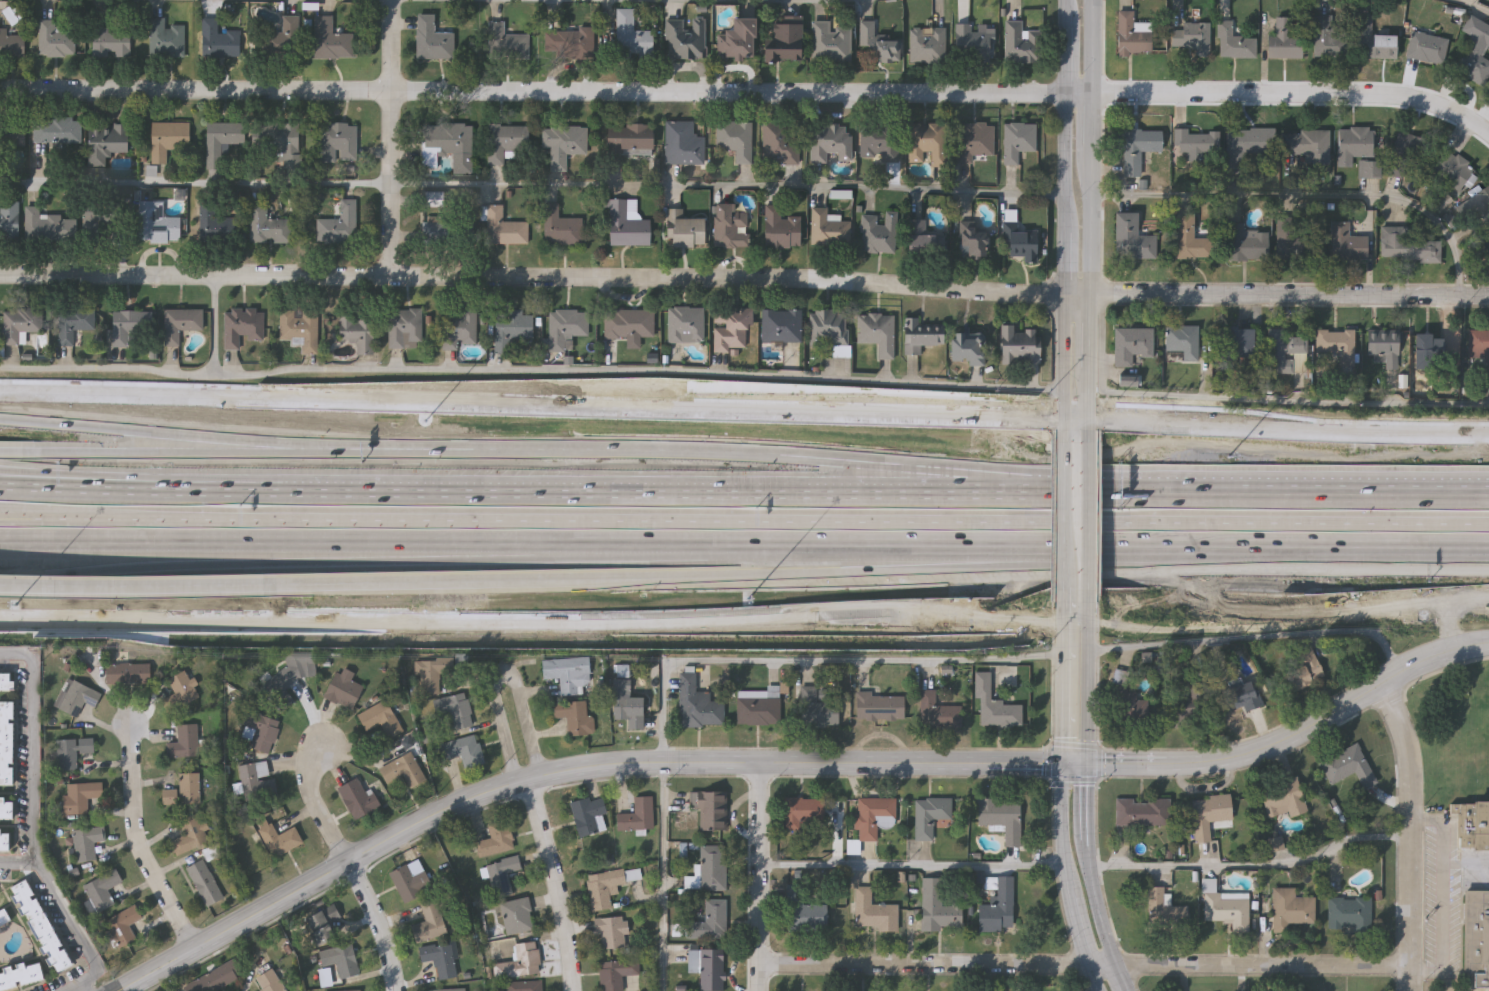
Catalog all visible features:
road: (459, 2)
road: (1467, 6)
building: (1131, 36)
building: (1328, 36)
building: (632, 37)
building: (165, 38)
building: (277, 38)
building: (432, 38)
building: (686, 38)
building: (1191, 38)
building: (54, 40)
building: (218, 40)
building: (332, 40)
building: (738, 40)
building: (783, 40)
building: (575, 41)
building: (1371, 41)
building: (110, 42)
building: (831, 42)
building: (1283, 42)
building: (1022, 43)
building: (1234, 43)
building: (11, 44)
building: (509, 44)
building: (928, 44)
building: (972, 44)
building: (877, 45)
building: (1427, 48)
building: (1474, 52)
road: (748, 93)
building: (57, 131)
building: (12, 136)
road: (388, 139)
building: (448, 139)
building: (629, 139)
building: (735, 139)
building: (167, 140)
building: (1019, 140)
building: (221, 141)
building: (283, 141)
building: (506, 141)
building: (973, 141)
building: (337, 142)
building: (831, 142)
building: (927, 142)
building: (104, 143)
building: (563, 143)
building: (780, 143)
building: (879, 143)
building: (1195, 143)
building: (683, 144)
building: (1354, 145)
building: (1308, 146)
building: (1136, 147)
building: (1247, 147)
building: (1408, 154)
building: (1369, 170)
building: (1453, 171)
road: (534, 186)
road: (1069, 194)
building: (434, 199)
road: (1307, 199)
building: (1480, 207)
building: (97, 217)
building: (9, 218)
building: (213, 222)
building: (157, 223)
building: (341, 224)
building: (49, 225)
building: (624, 225)
road: (1091, 225)
building: (267, 226)
building: (560, 226)
building: (729, 226)
building: (504, 227)
building: (780, 228)
building: (684, 229)
building: (829, 229)
building: (878, 232)
building: (450, 233)
building: (1132, 238)
building: (923, 239)
building: (1191, 239)
building: (973, 241)
building: (1020, 241)
building: (1290, 241)
building: (1394, 242)
building: (1247, 243)
building: (1346, 243)
building: (1486, 249)
building: (1427, 252)
road: (744, 280)
building: (22, 323)
building: (180, 323)
building: (629, 323)
building: (75, 324)
building: (130, 324)
building: (685, 324)
building: (242, 325)
building: (782, 325)
building: (566, 326)
building: (731, 327)
building: (300, 328)
building: (405, 328)
building: (458, 328)
building: (511, 328)
building: (831, 329)
building: (356, 332)
building: (878, 332)
building: (920, 335)
building: (1183, 342)
building: (1237, 344)
building: (1020, 345)
building: (1131, 345)
building: (1479, 345)
building: (1434, 346)
building: (1384, 347)
building: (968, 348)
building: (1335, 349)
building: (1286, 353)
road: (108, 368)
road: (592, 370)
road: (1289, 403)
road: (546, 407)
road: (1064, 419)
road: (1290, 430)
road: (155, 433)
road: (10, 451)
road: (166, 452)
road: (642, 453)
road: (47, 476)
road: (47, 482)
road: (532, 487)
road: (1229, 488)
road: (1093, 498)
road: (21, 515)
road: (21, 518)
road: (1065, 522)
road: (765, 523)
road: (599, 544)
road: (1344, 548)
road: (494, 552)
road: (223, 564)
road: (1093, 570)
road: (772, 572)
road: (302, 586)
road: (186, 588)
road: (57, 589)
road: (1066, 605)
road: (1092, 605)
road: (1290, 606)
road: (533, 615)
road: (1079, 616)
road: (1046, 656)
building: (1302, 672)
building: (128, 675)
building: (566, 675)
building: (429, 678)
road: (505, 679)
building: (287, 680)
building: (5, 685)
building: (343, 691)
road: (1064, 693)
building: (179, 694)
road: (1089, 694)
building: (1241, 696)
building: (78, 700)
building: (1125, 703)
building: (1193, 705)
building: (697, 706)
building: (995, 707)
building: (627, 709)
building: (880, 709)
building: (454, 712)
building: (759, 712)
building: (818, 712)
building: (938, 713)
building: (573, 719)
building: (380, 722)
building: (259, 734)
building: (186, 744)
building: (5, 746)
building: (463, 753)
building: (70, 754)
road: (793, 765)
building: (1348, 766)
traffic signals: (1063, 771)
traffic signals: (1087, 772)
building: (402, 776)
building: (259, 792)
building: (185, 793)
building: (81, 799)
building: (1283, 799)
building: (357, 800)
road: (315, 803)
building: (710, 811)
building: (4, 812)
building: (1143, 812)
building: (805, 814)
building: (1209, 814)
road: (34, 817)
building: (930, 817)
building: (588, 818)
building: (638, 818)
building: (874, 818)
building: (1002, 819)
road: (1088, 821)
road: (663, 826)
building: (1474, 829)
building: (191, 837)
road: (1412, 837)
building: (495, 842)
building: (280, 843)
building: (4, 844)
building: (86, 847)
road: (138, 847)
road: (17, 861)
road: (911, 868)
building: (712, 870)
road: (1065, 870)
road: (1255, 870)
road: (756, 877)
building: (500, 878)
road: (556, 884)
building: (204, 885)
building: (409, 885)
building: (603, 892)
building: (101, 893)
road: (1443, 896)
building: (1004, 904)
building: (1164, 909)
building: (1291, 909)
building: (939, 910)
building: (1227, 910)
building: (874, 914)
building: (1350, 915)
building: (516, 918)
road: (1101, 918)
building: (2, 920)
building: (813, 921)
road: (379, 924)
building: (428, 925)
building: (709, 926)
building: (40, 927)
building: (325, 927)
building: (122, 928)
building: (611, 935)
building: (1476, 940)
building: (340, 962)
building: (438, 962)
building: (519, 964)
road: (925, 965)
road: (1105, 966)
road: (1262, 966)
building: (710, 971)
building: (616, 974)
building: (19, 977)
building: (219, 978)
road: (1100, 978)
road: (1119, 978)
building: (269, 982)
road: (77, 984)
building: (523, 987)

